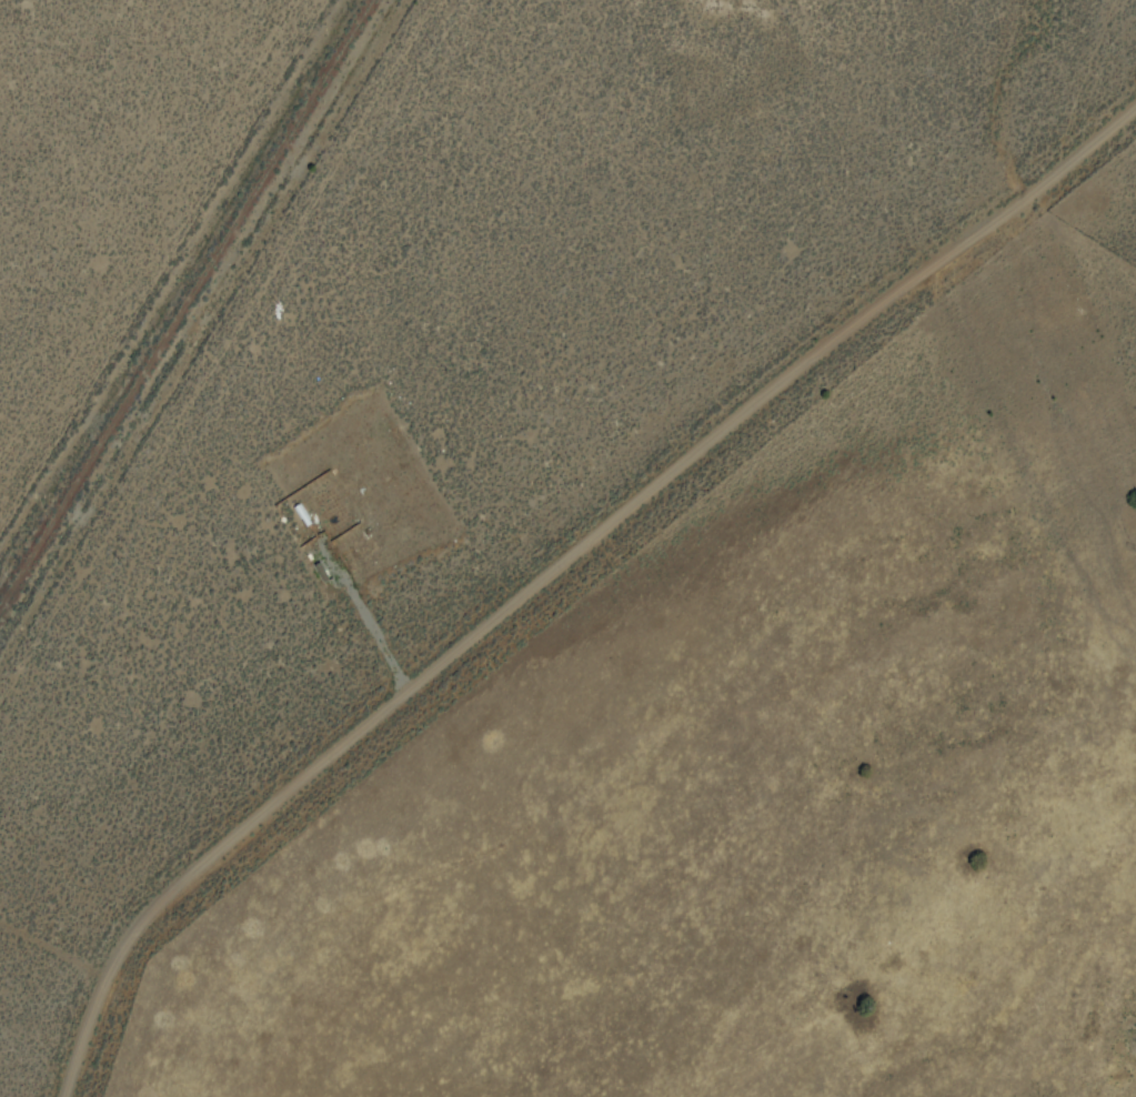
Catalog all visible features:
road: (202, 329)
road: (559, 568)

